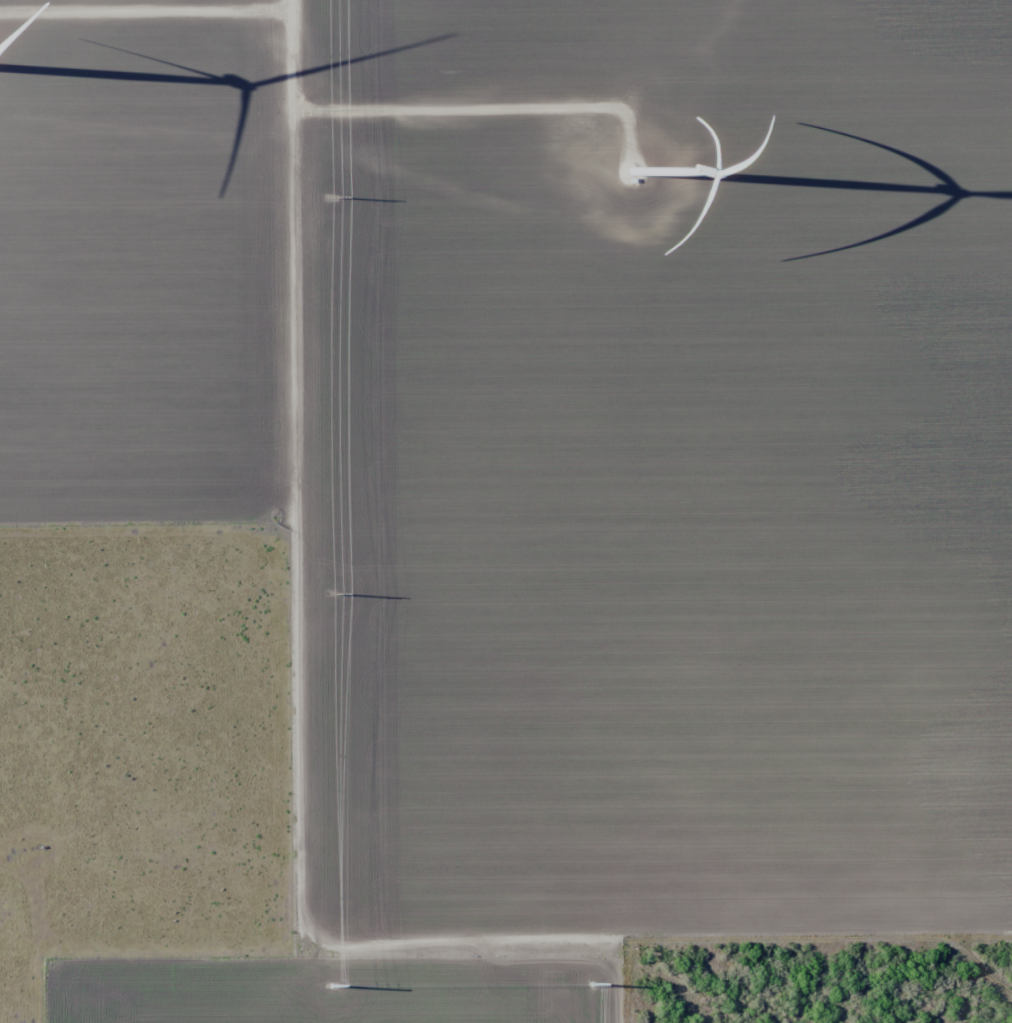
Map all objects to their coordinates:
wind turbine: (637, 167)
power tower: (334, 197)
road: (268, 511)
power tower: (334, 590)
road: (134, 893)

